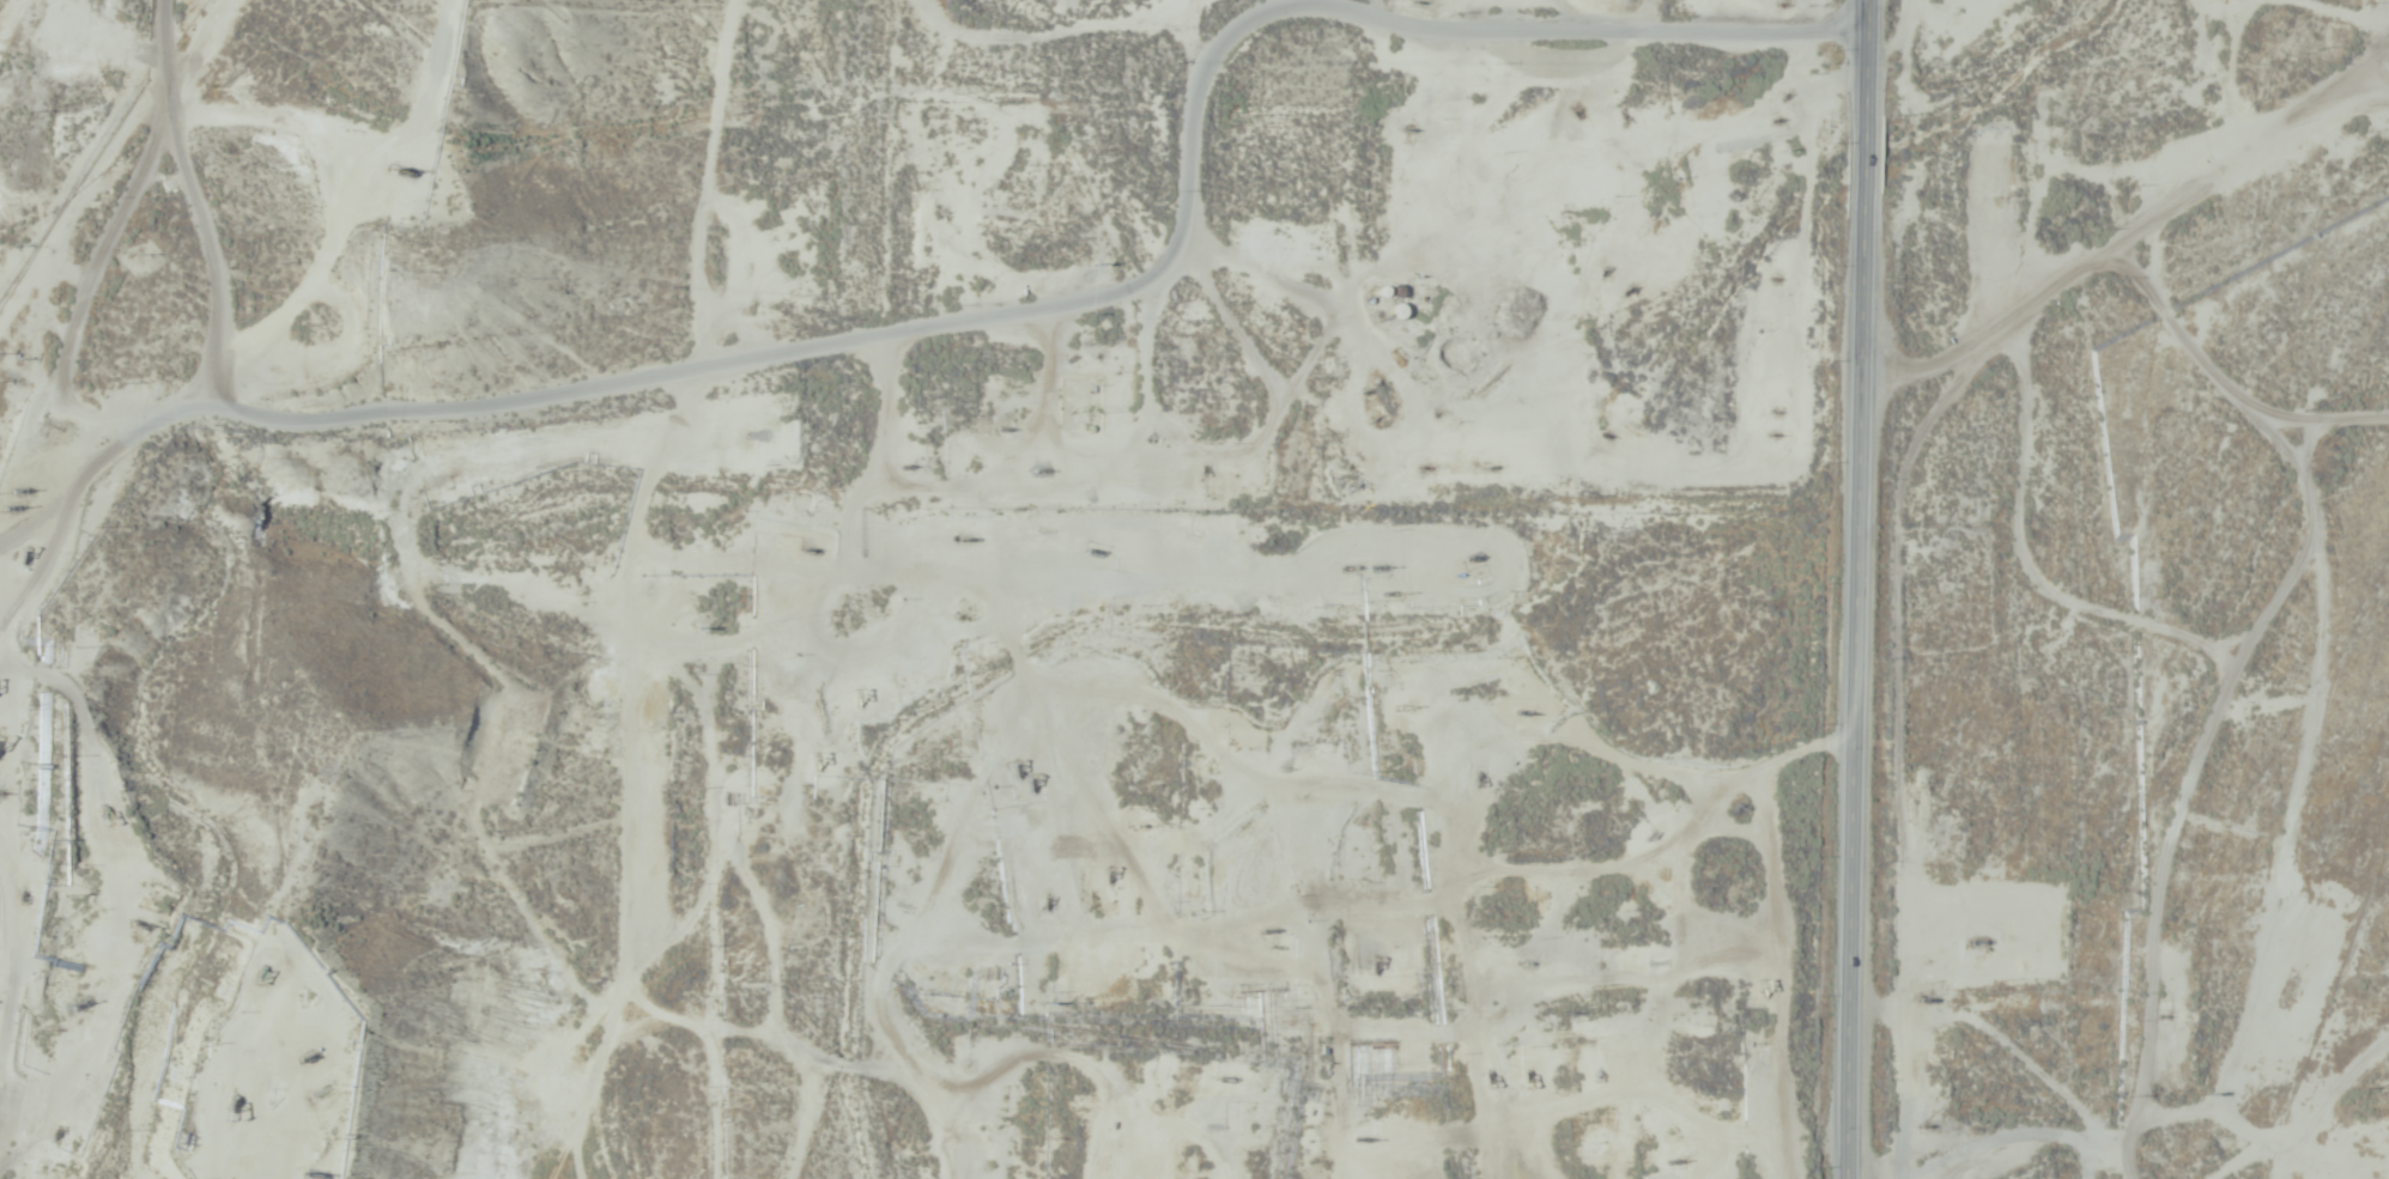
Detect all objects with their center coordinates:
road: (965, 333)
road: (1870, 589)

